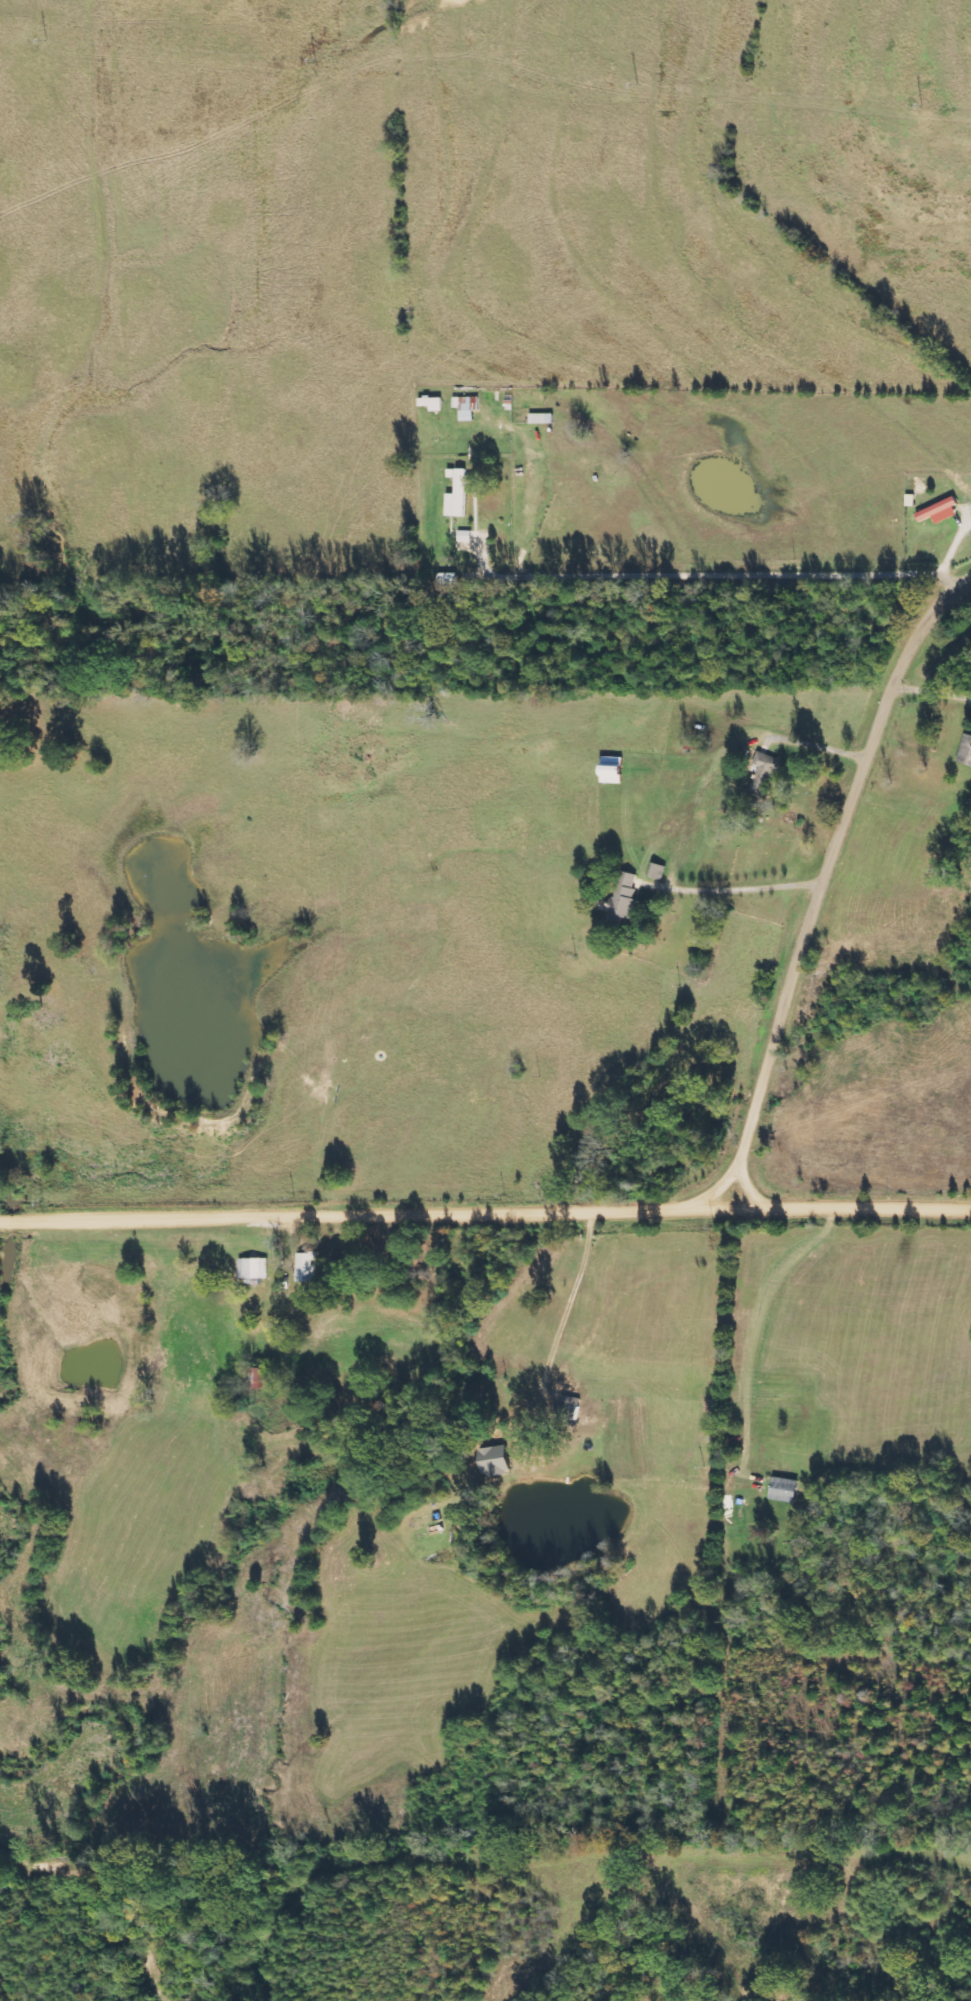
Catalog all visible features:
building: (430, 403)
building: (465, 407)
building: (537, 419)
building: (457, 493)
building: (938, 512)
building: (463, 536)
road: (932, 538)
building: (966, 751)
building: (763, 774)
building: (656, 872)
road: (826, 887)
building: (623, 898)
road: (704, 1159)
road: (485, 1213)
building: (306, 1268)
building: (253, 1269)
building: (492, 1462)
building: (782, 1490)

